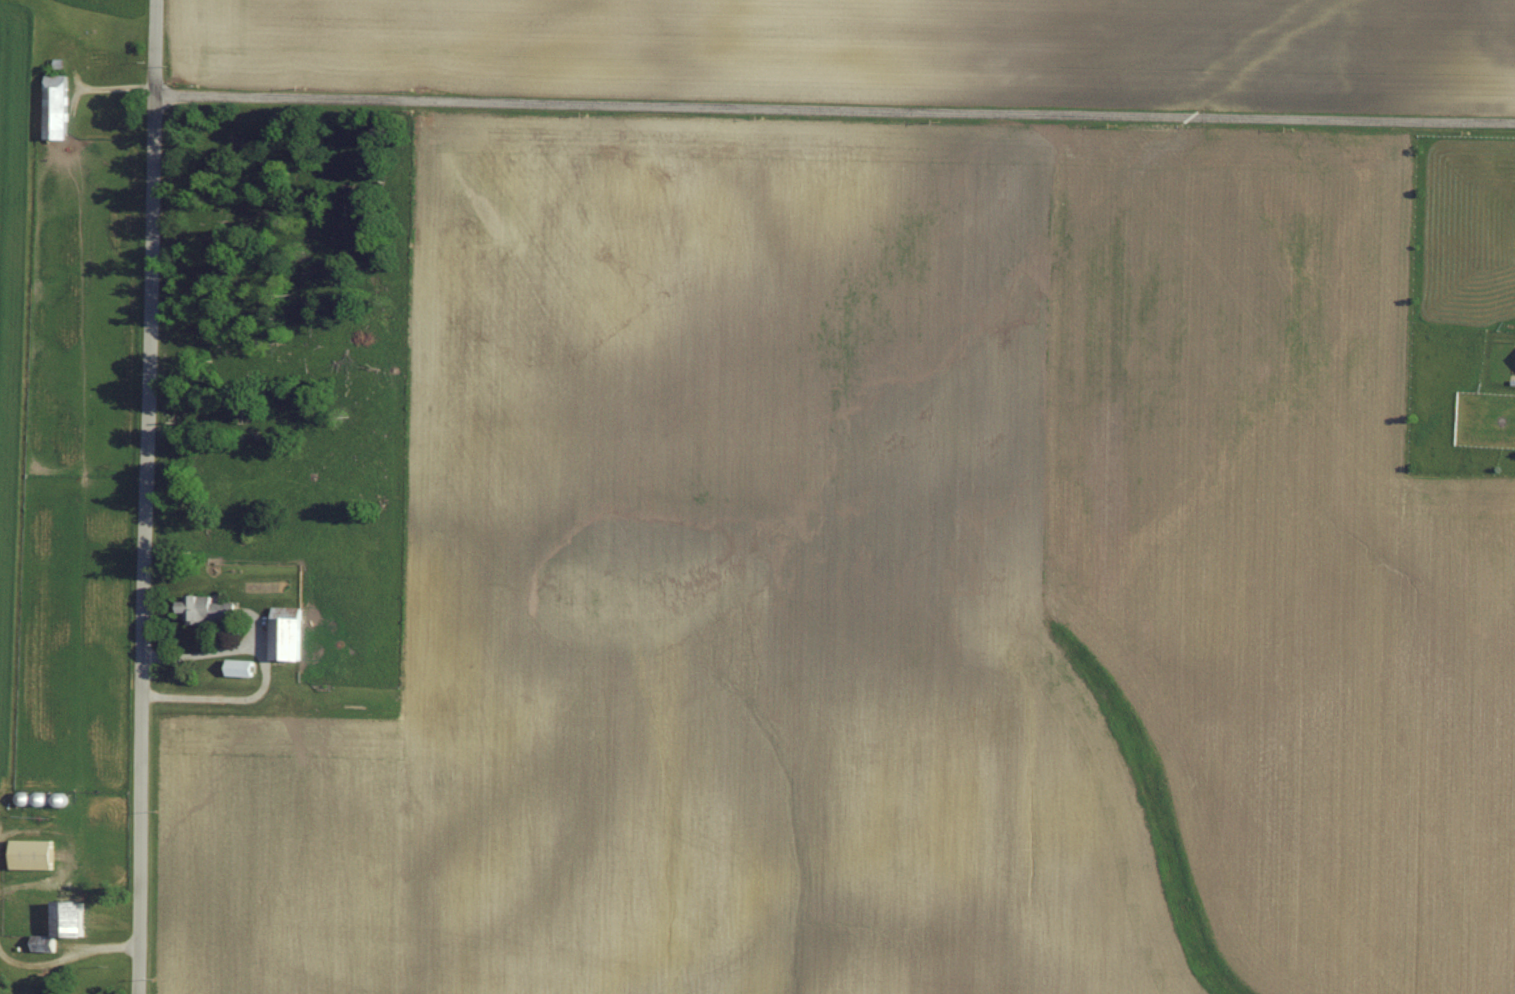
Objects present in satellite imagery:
building: (60, 104)
road: (835, 106)
road: (147, 497)
building: (204, 605)
road: (265, 669)
road: (11, 834)
building: (39, 852)
road: (68, 955)

